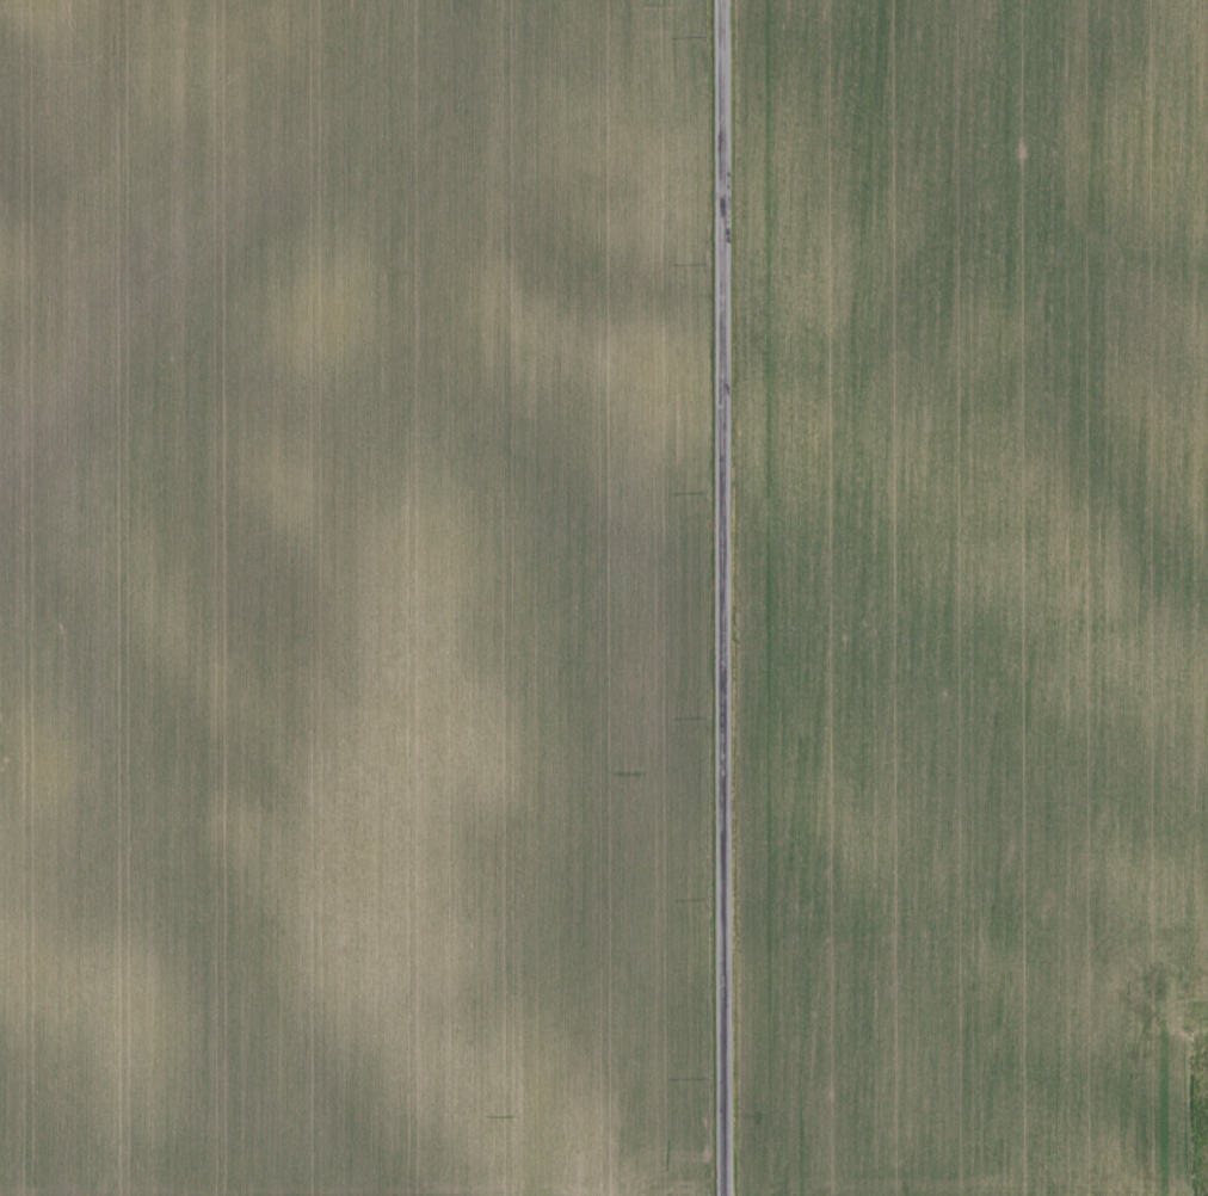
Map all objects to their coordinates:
road: (721, 598)

